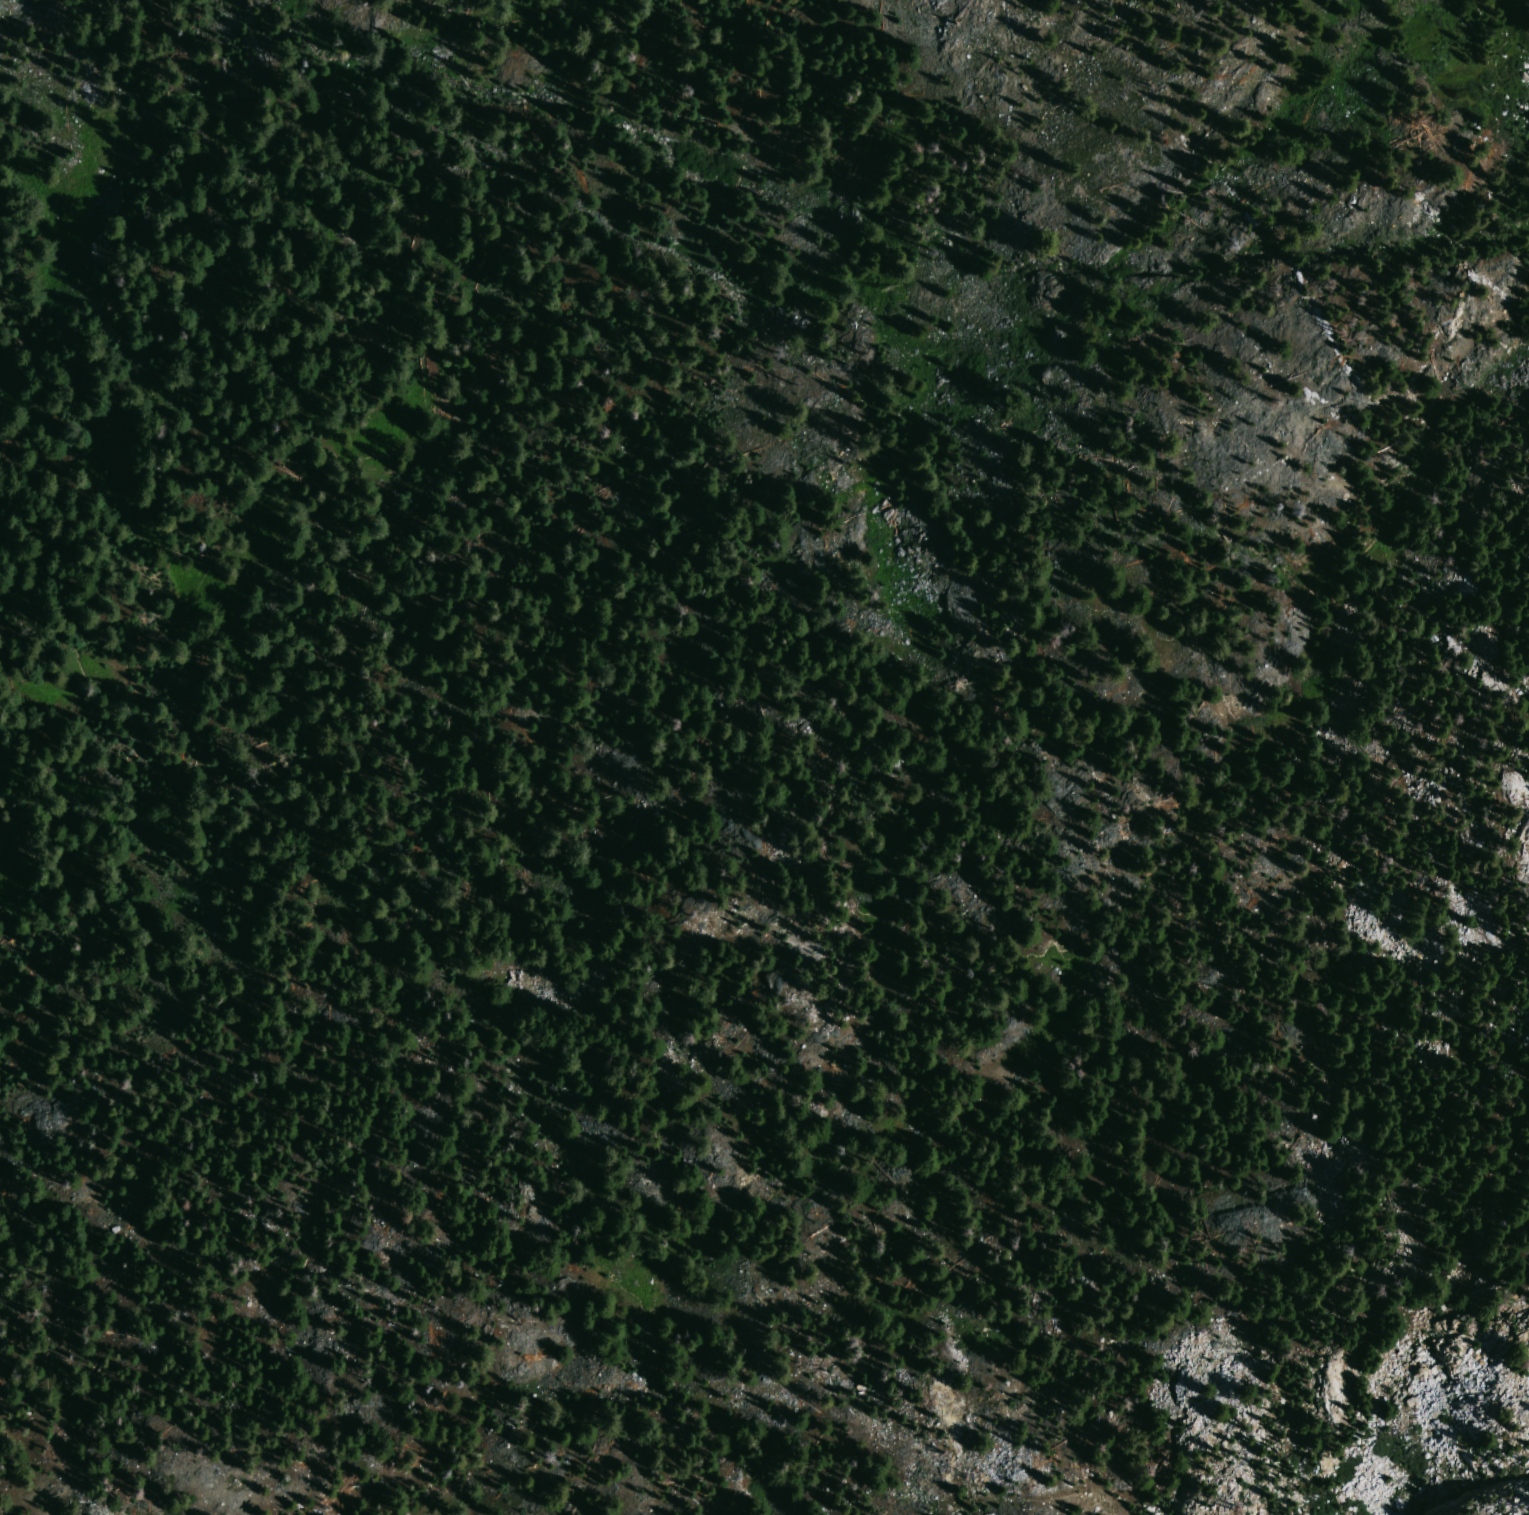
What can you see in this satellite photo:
road: (43, 297)
road: (1131, 913)

